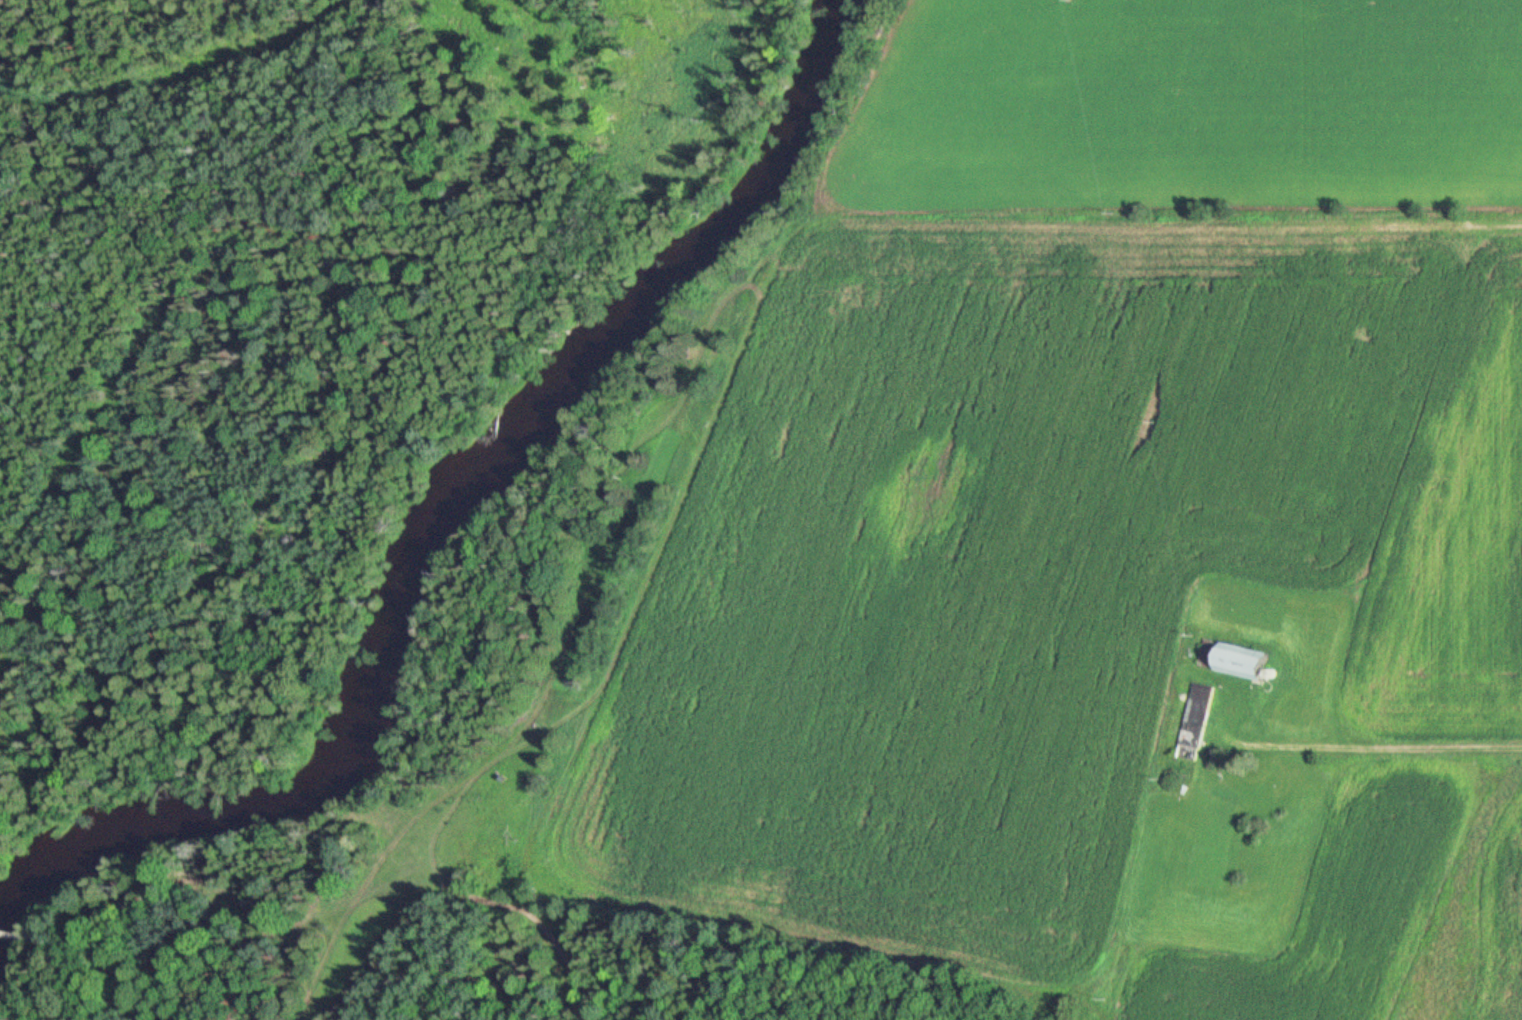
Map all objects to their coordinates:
river: (435, 545)
building: (1235, 660)
building: (1194, 722)
road: (1382, 747)
road: (1380, 913)

